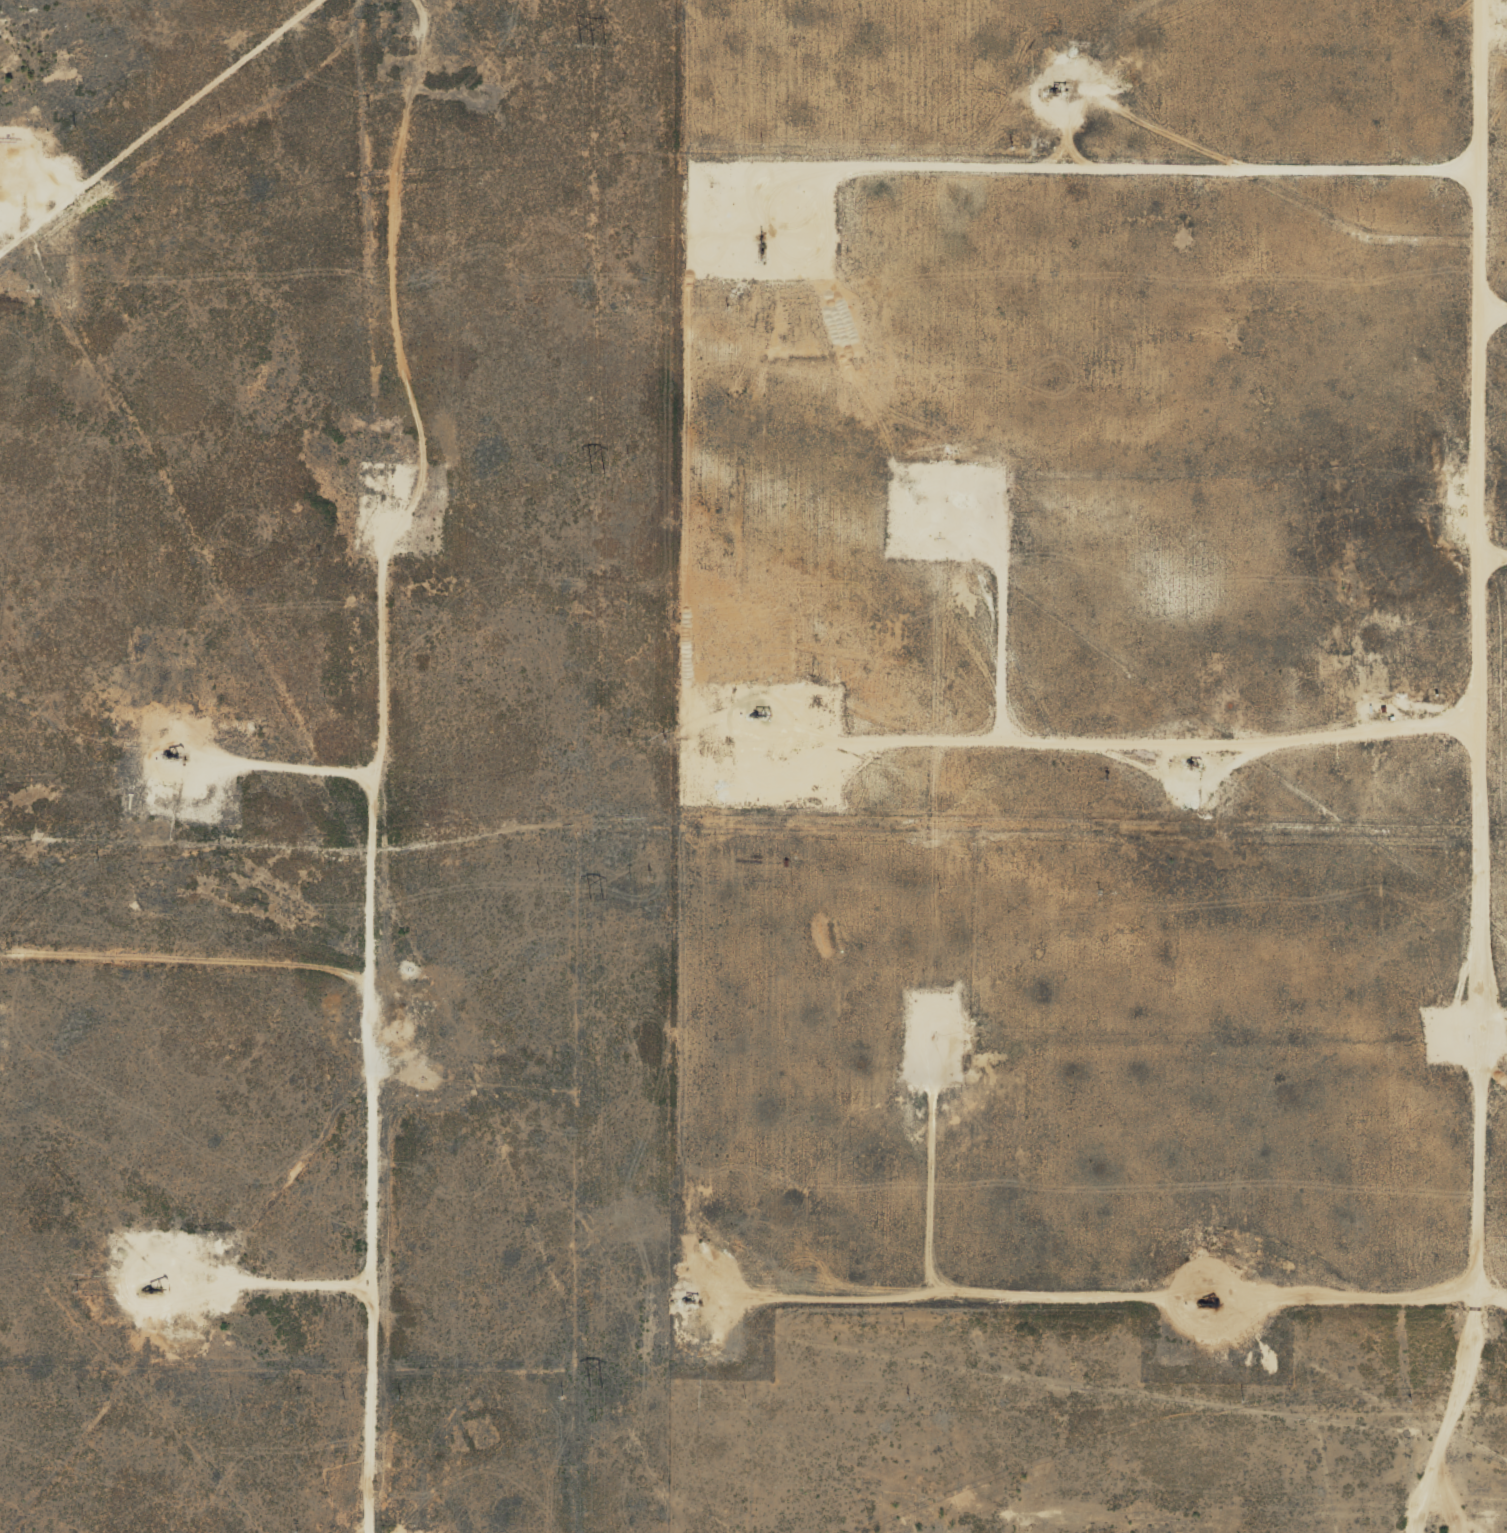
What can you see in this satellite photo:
road: (1361, 31)
power tower: (595, 45)
road: (165, 131)
river: (512, 376)
road: (1254, 473)
power tower: (599, 474)
road: (1500, 578)
road: (1494, 770)
power tower: (597, 904)
road: (177, 979)
road: (368, 1026)
road: (1249, 1050)
power tower: (597, 1384)

